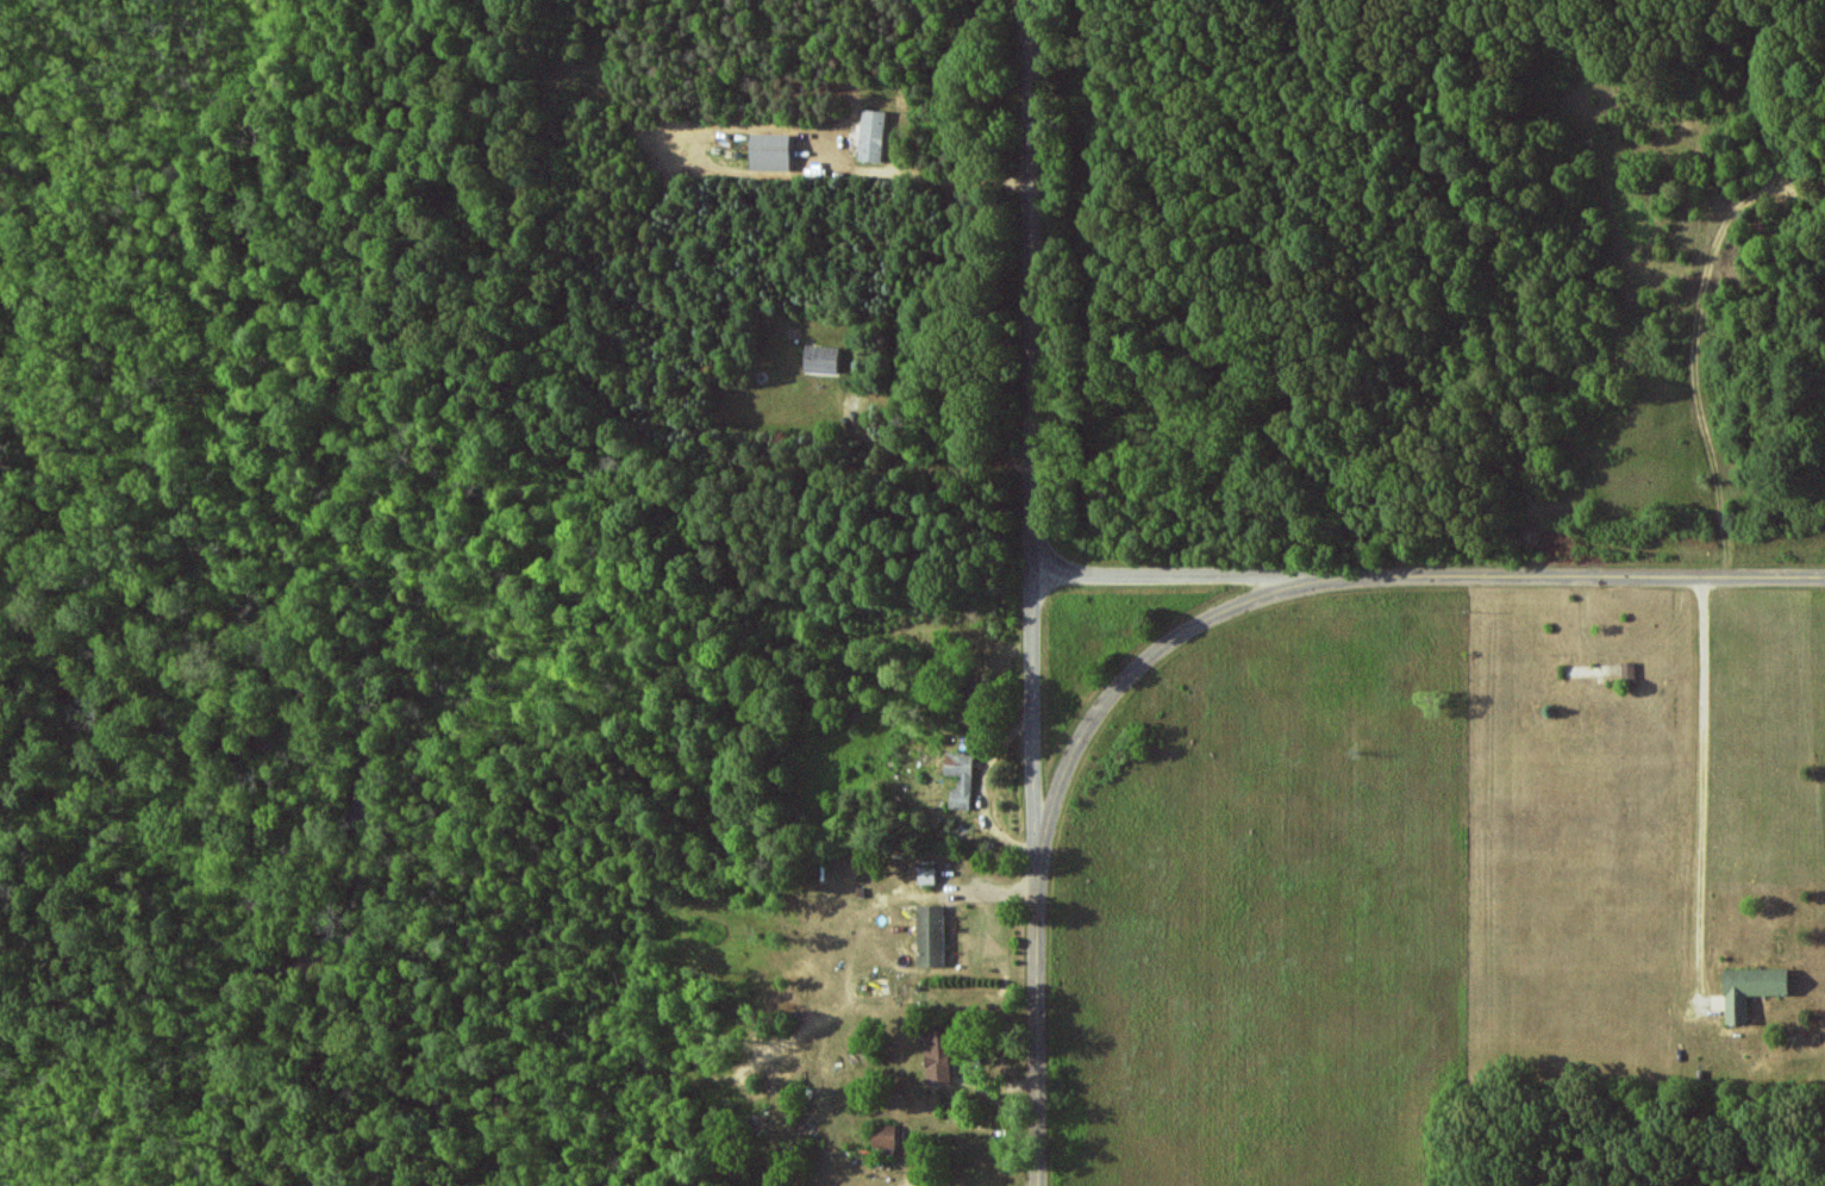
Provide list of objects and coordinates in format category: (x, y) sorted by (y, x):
building: (871, 136)
building: (769, 152)
building: (821, 360)
road: (1033, 429)
road: (1182, 575)
road: (1577, 580)
road: (1135, 667)
building: (960, 779)
road: (1706, 791)
building: (931, 936)
building: (1751, 988)
road: (1040, 1022)
building: (938, 1056)
building: (885, 1136)

